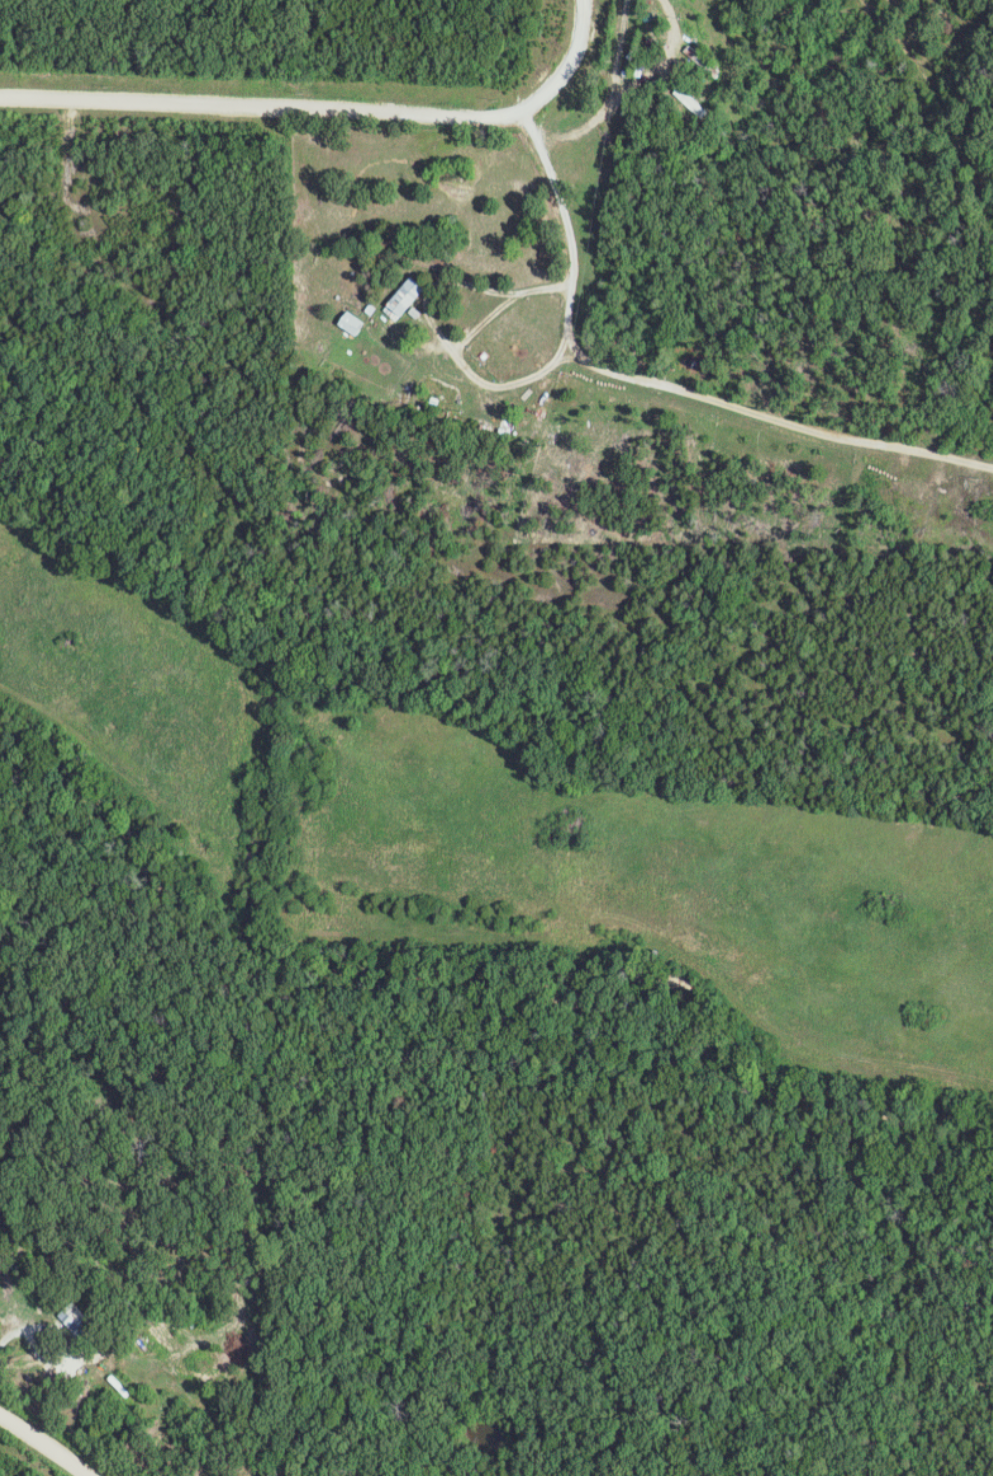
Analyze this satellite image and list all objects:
road: (327, 108)
building: (408, 299)
building: (355, 323)
road: (659, 383)
road: (45, 1443)

